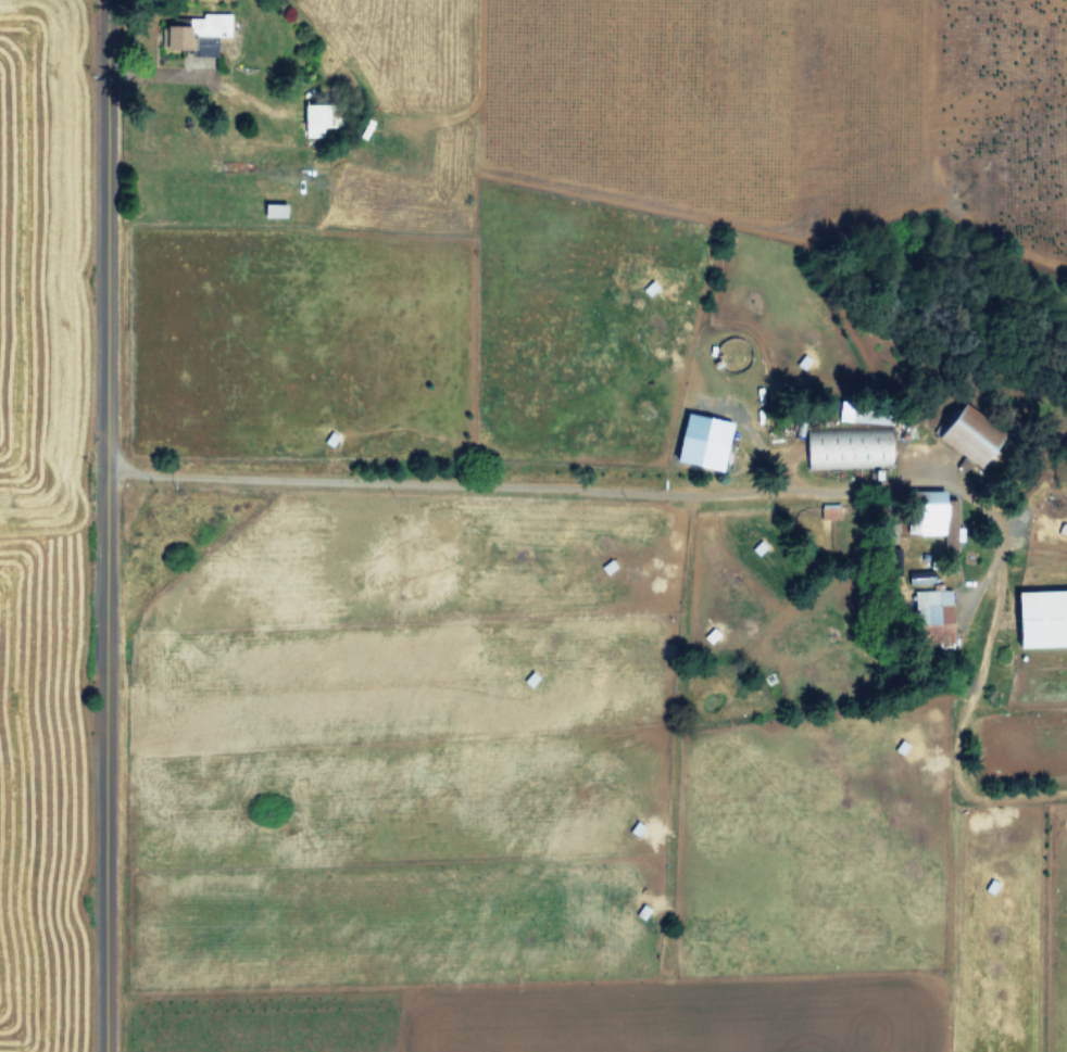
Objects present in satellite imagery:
building: (206, 29)
building: (172, 36)
building: (311, 118)
building: (963, 434)
building: (698, 441)
road: (639, 491)
building: (936, 518)
road: (103, 525)
crop: (533, 525)
building: (930, 609)
building: (1039, 618)

